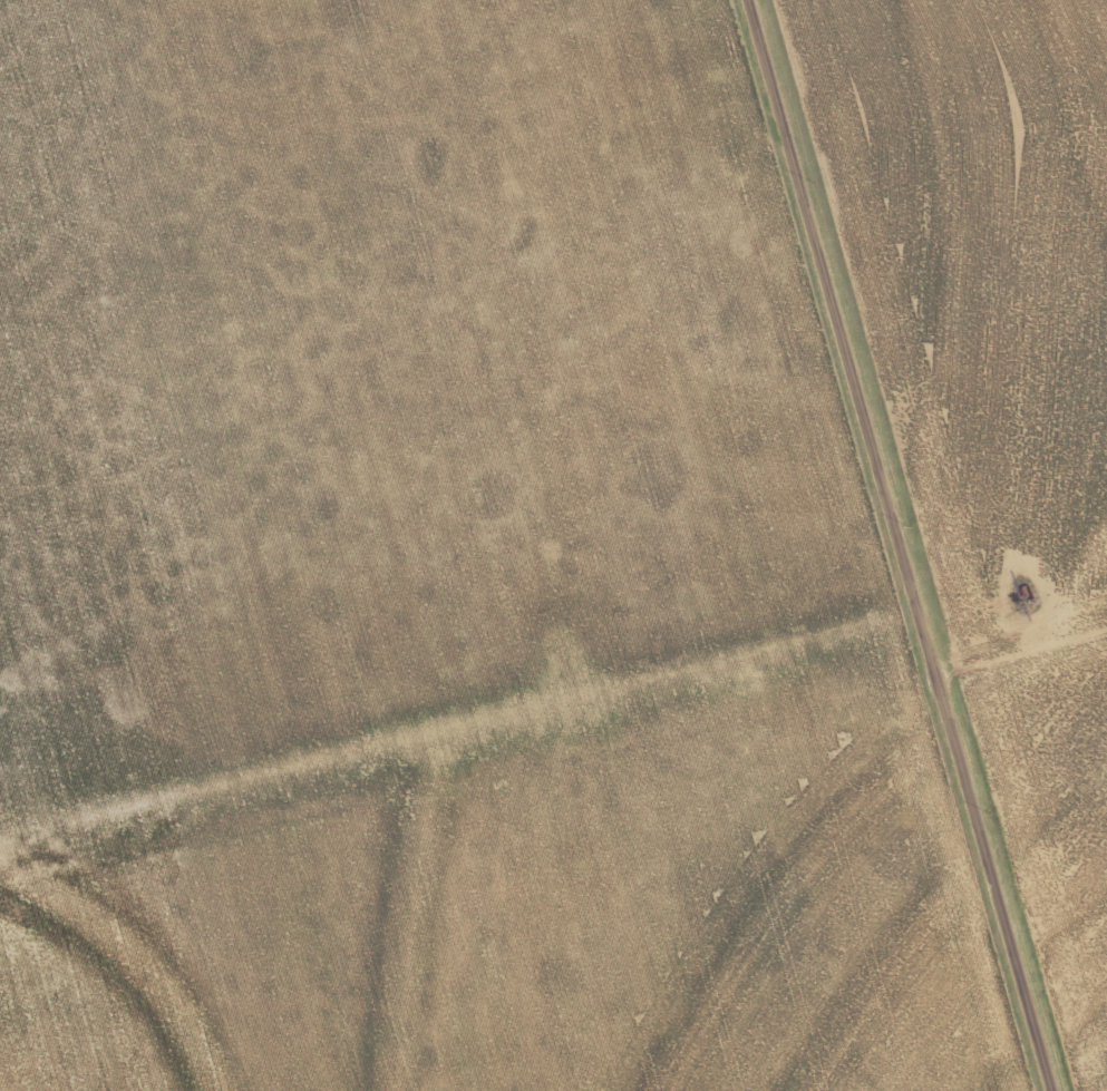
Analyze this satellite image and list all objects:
road: (901, 545)

